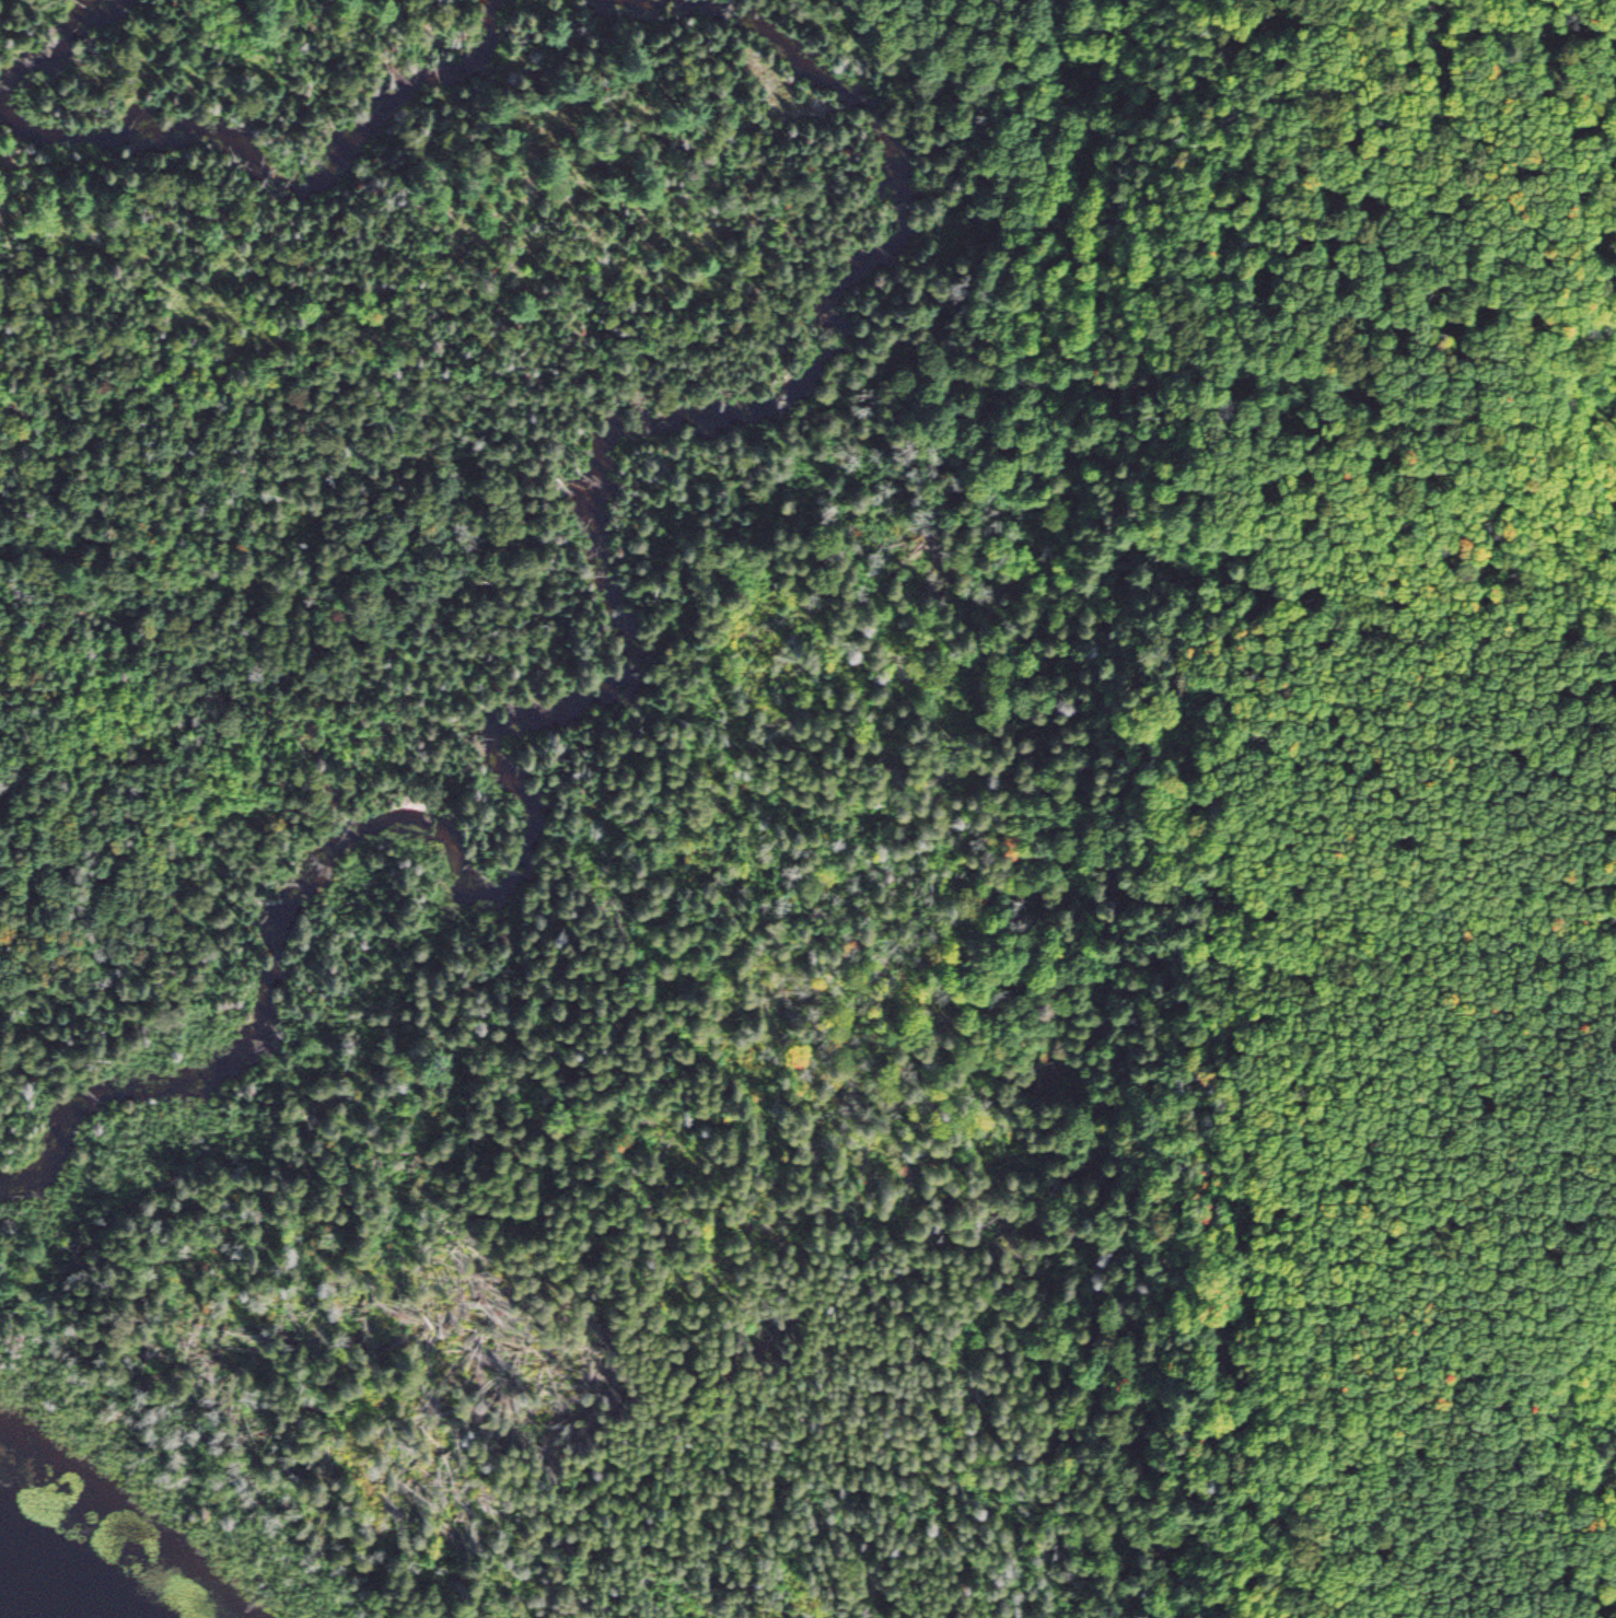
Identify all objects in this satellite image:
river: (224, 159)
river: (623, 677)
river: (13, 1604)

